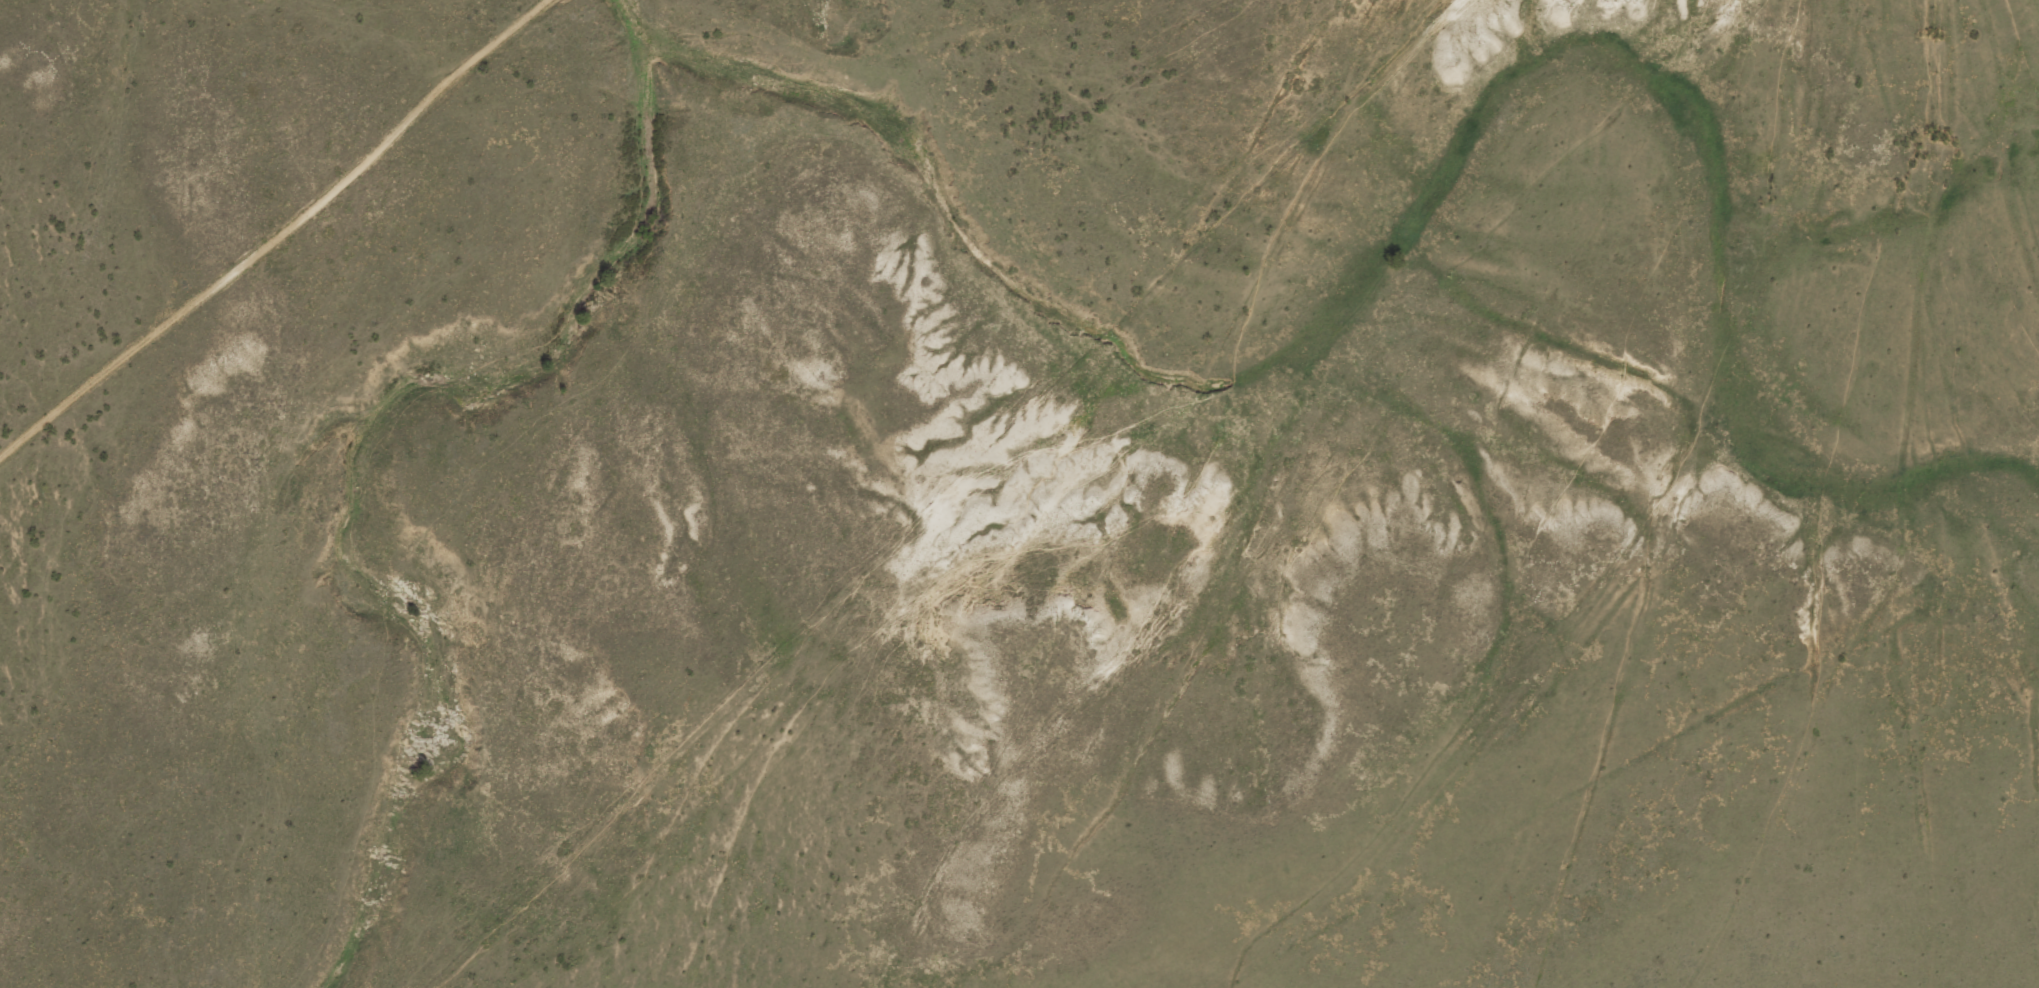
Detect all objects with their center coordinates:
road: (1907, 503)

